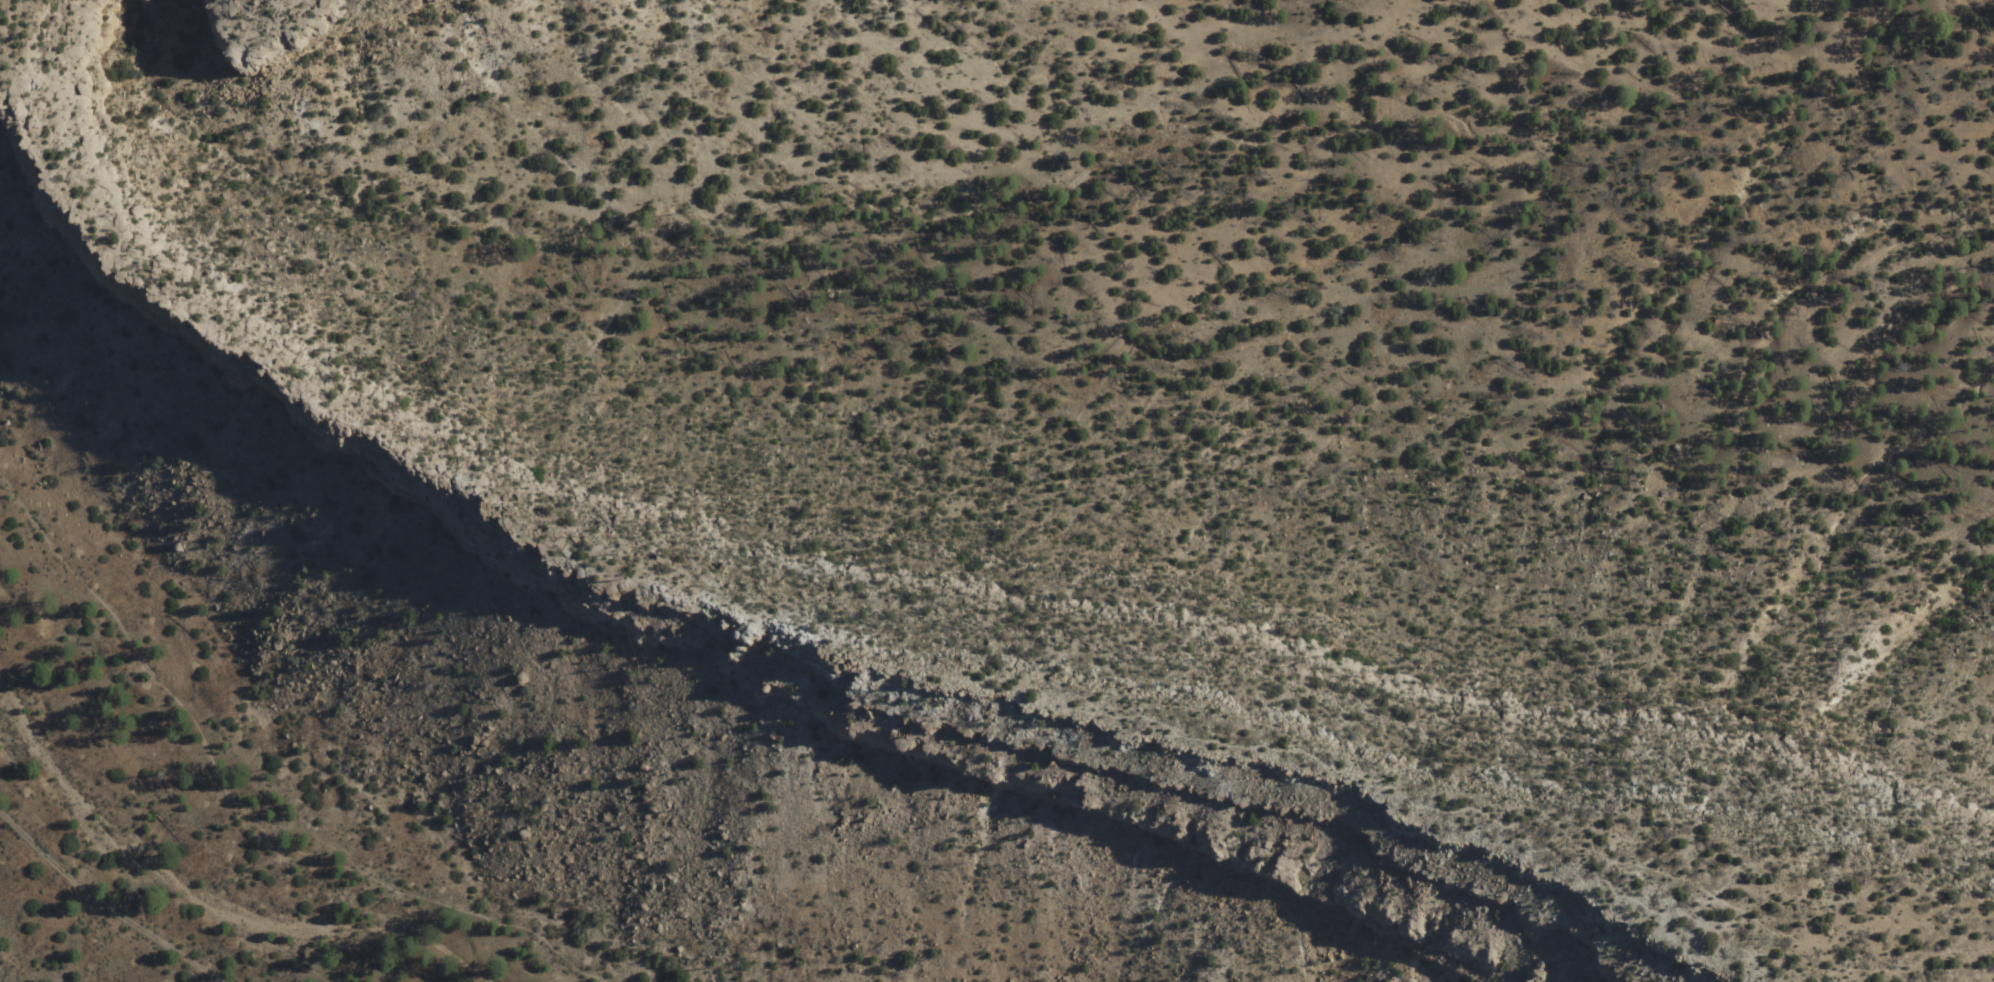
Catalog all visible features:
road: (892, 665)
road: (234, 810)
road: (104, 905)

